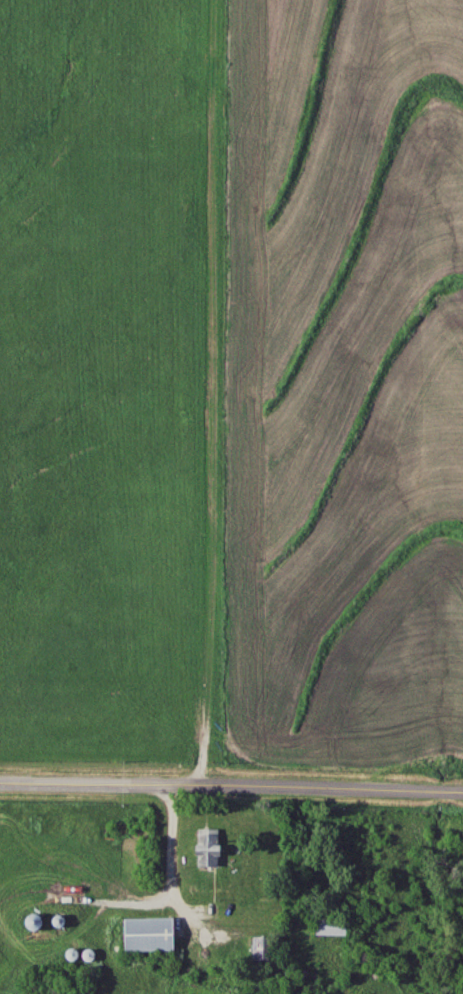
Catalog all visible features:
road: (231, 788)
building: (208, 849)
building: (34, 922)
building: (331, 927)
building: (149, 935)
building: (262, 952)

